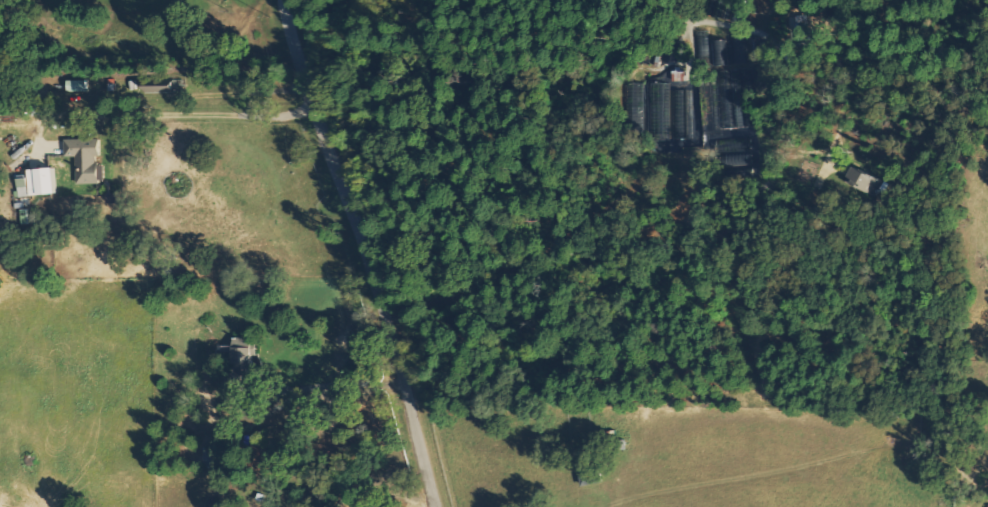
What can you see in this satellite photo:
building: (717, 49)
building: (757, 50)
building: (79, 84)
building: (161, 86)
building: (733, 150)
building: (87, 159)
building: (863, 179)
building: (45, 180)
building: (23, 186)
road: (366, 252)
building: (246, 353)
building: (233, 383)
building: (208, 455)

